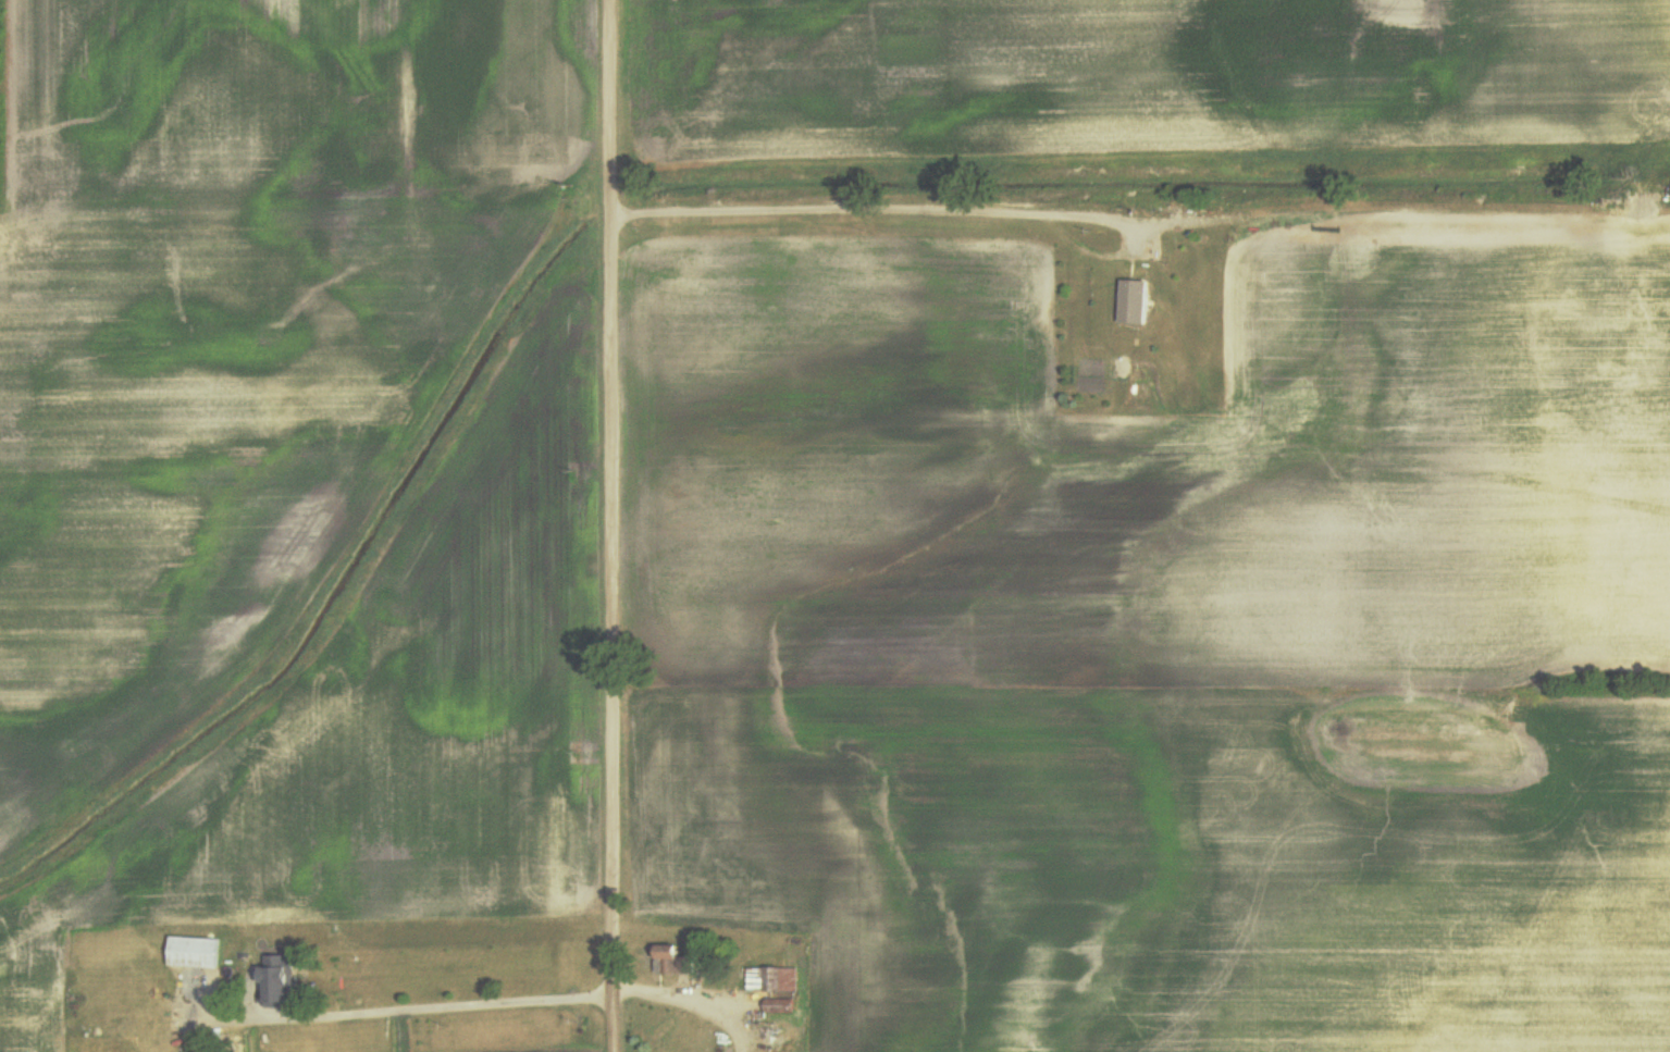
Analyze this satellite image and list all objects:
crop: (1159, 73)
crop: (289, 120)
road: (1136, 178)
building: (1134, 302)
crop: (173, 454)
crop: (1160, 477)
road: (614, 525)
crop: (361, 767)
crop: (1190, 869)
building: (196, 952)
building: (676, 963)
building: (772, 978)
building: (282, 981)
building: (775, 1008)

